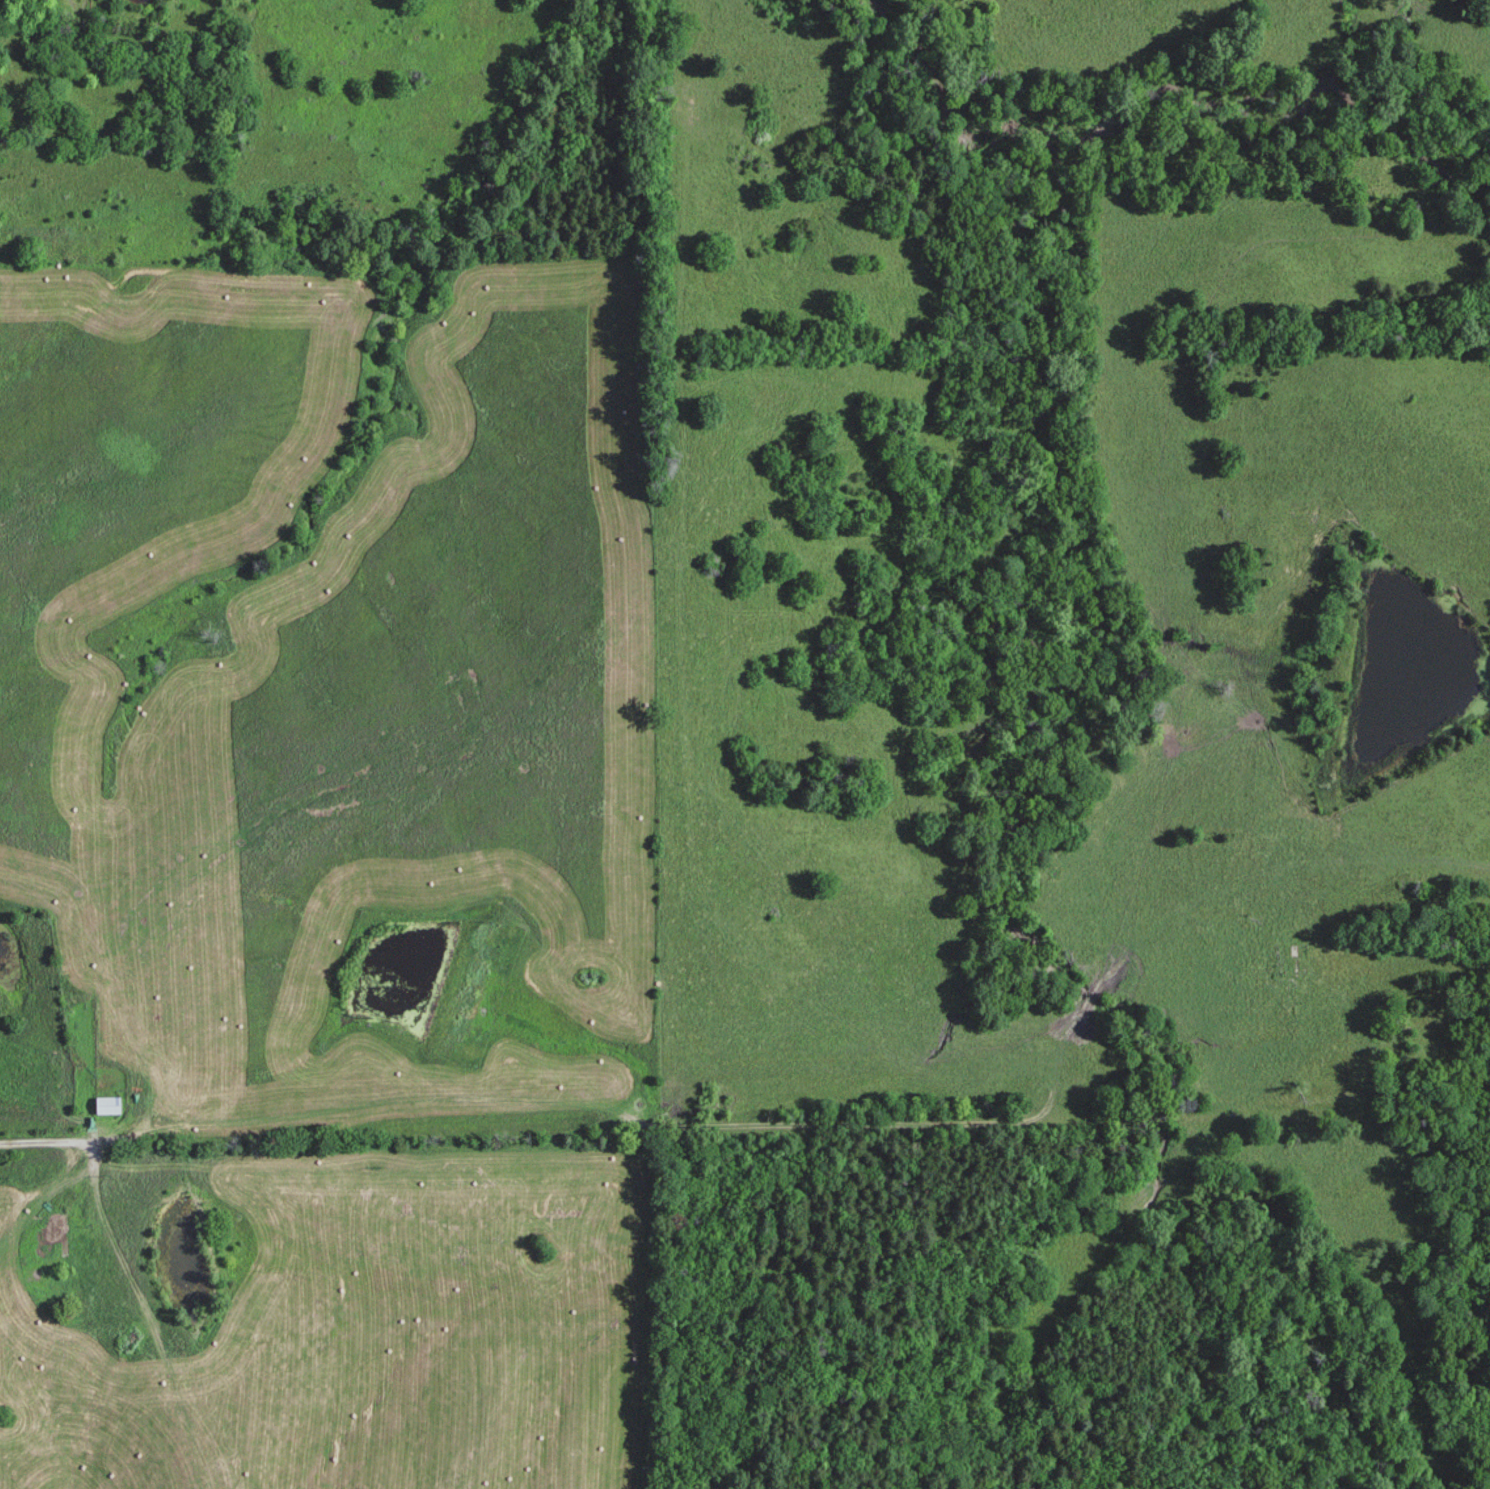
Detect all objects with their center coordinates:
building: (110, 1106)

